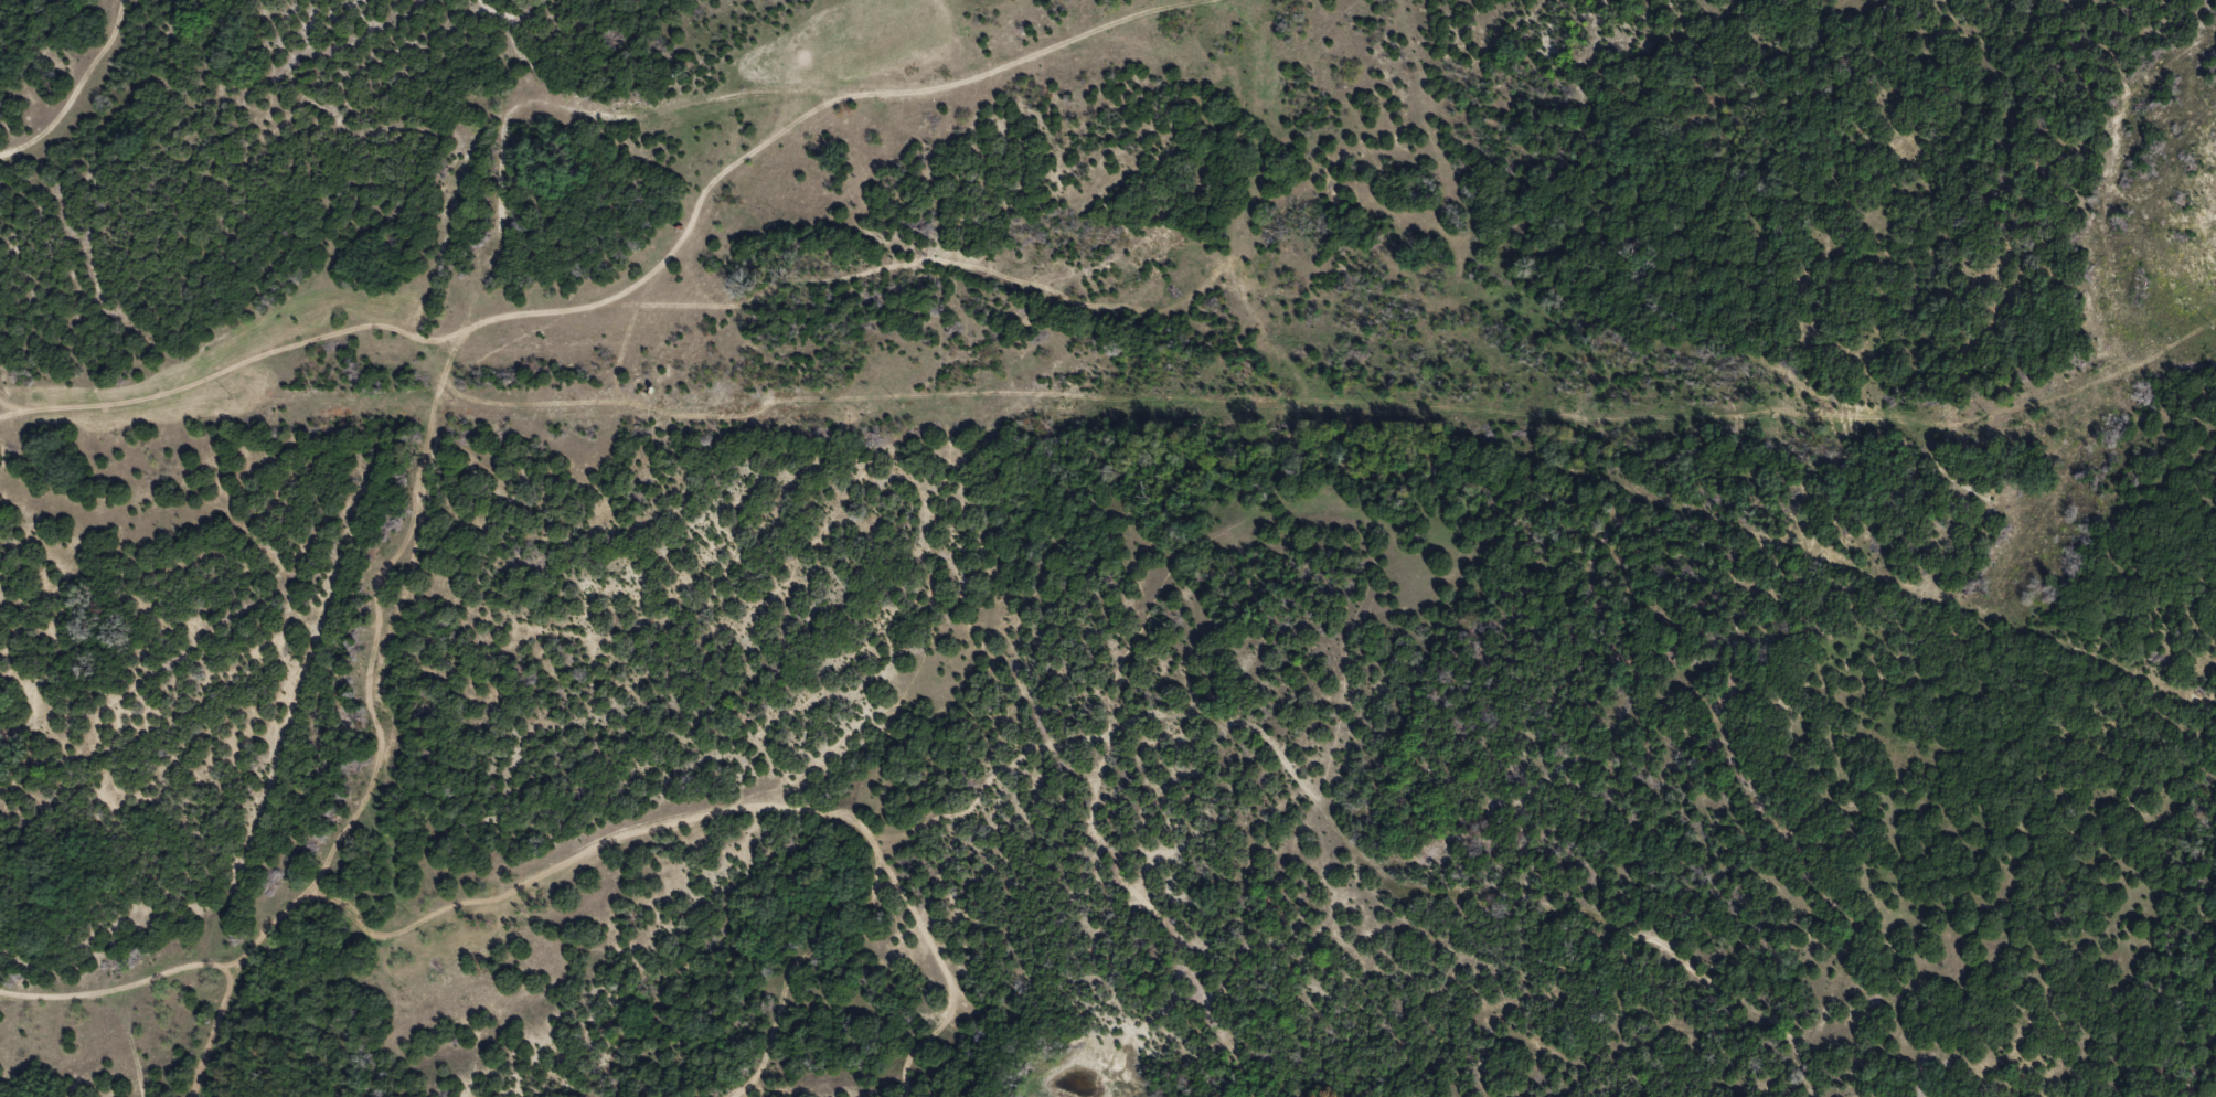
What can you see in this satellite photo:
road: (426, 897)

